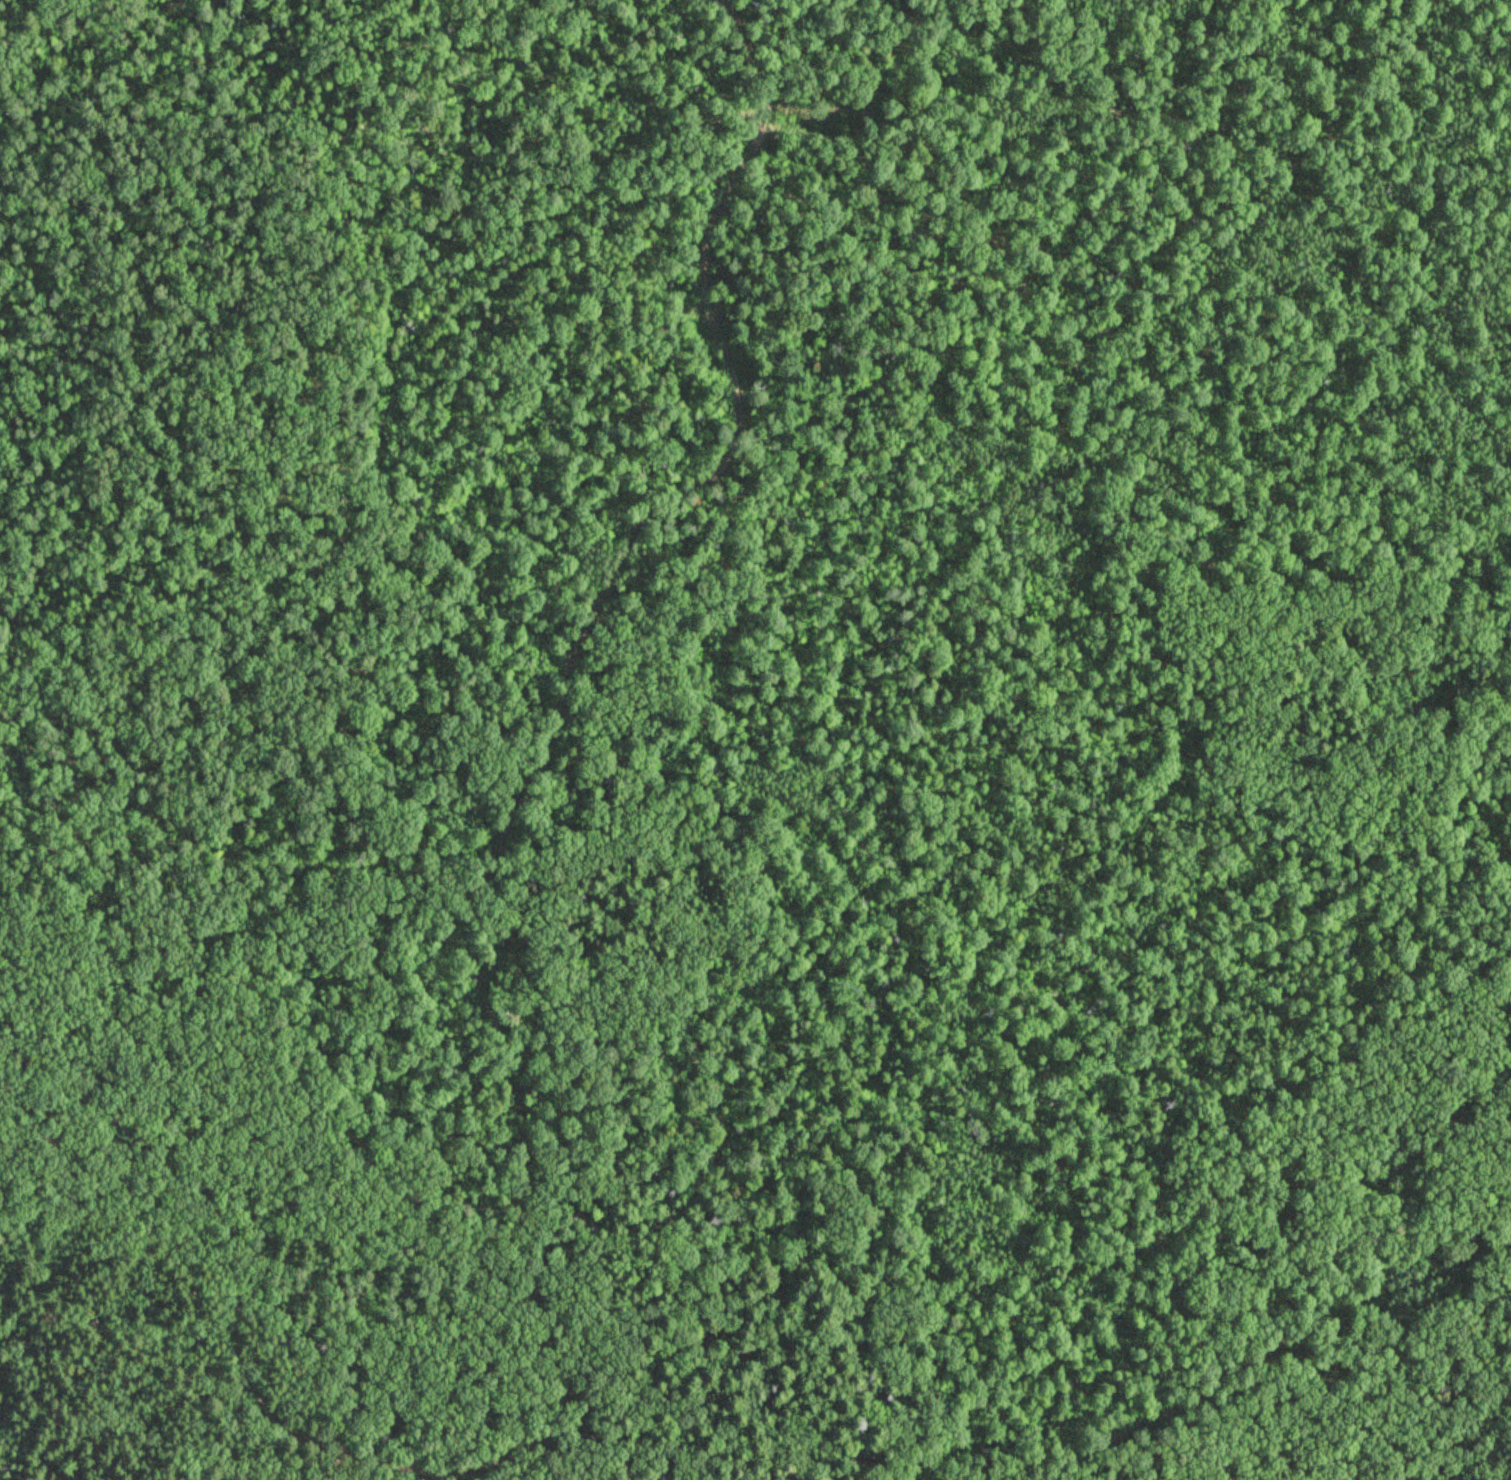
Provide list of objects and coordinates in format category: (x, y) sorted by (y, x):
road: (187, 1006)
road: (1233, 1374)

